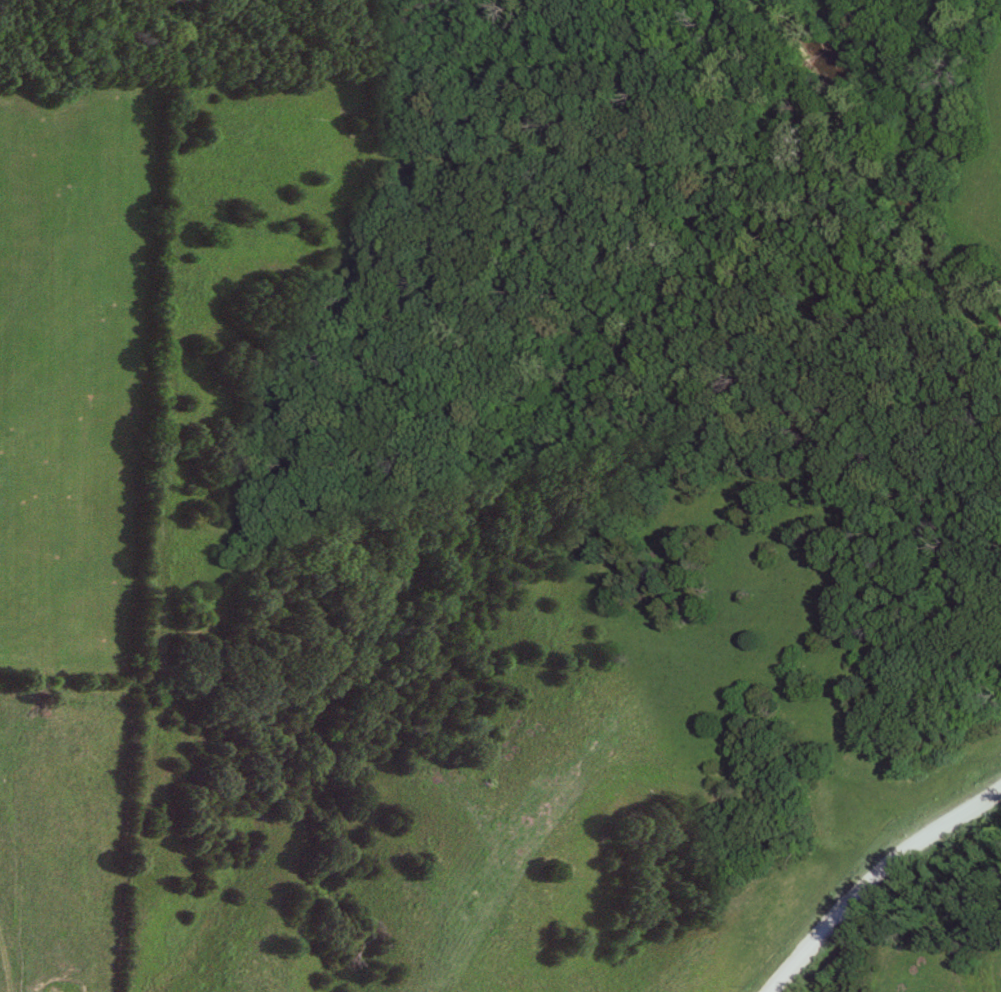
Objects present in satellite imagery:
road: (868, 871)

